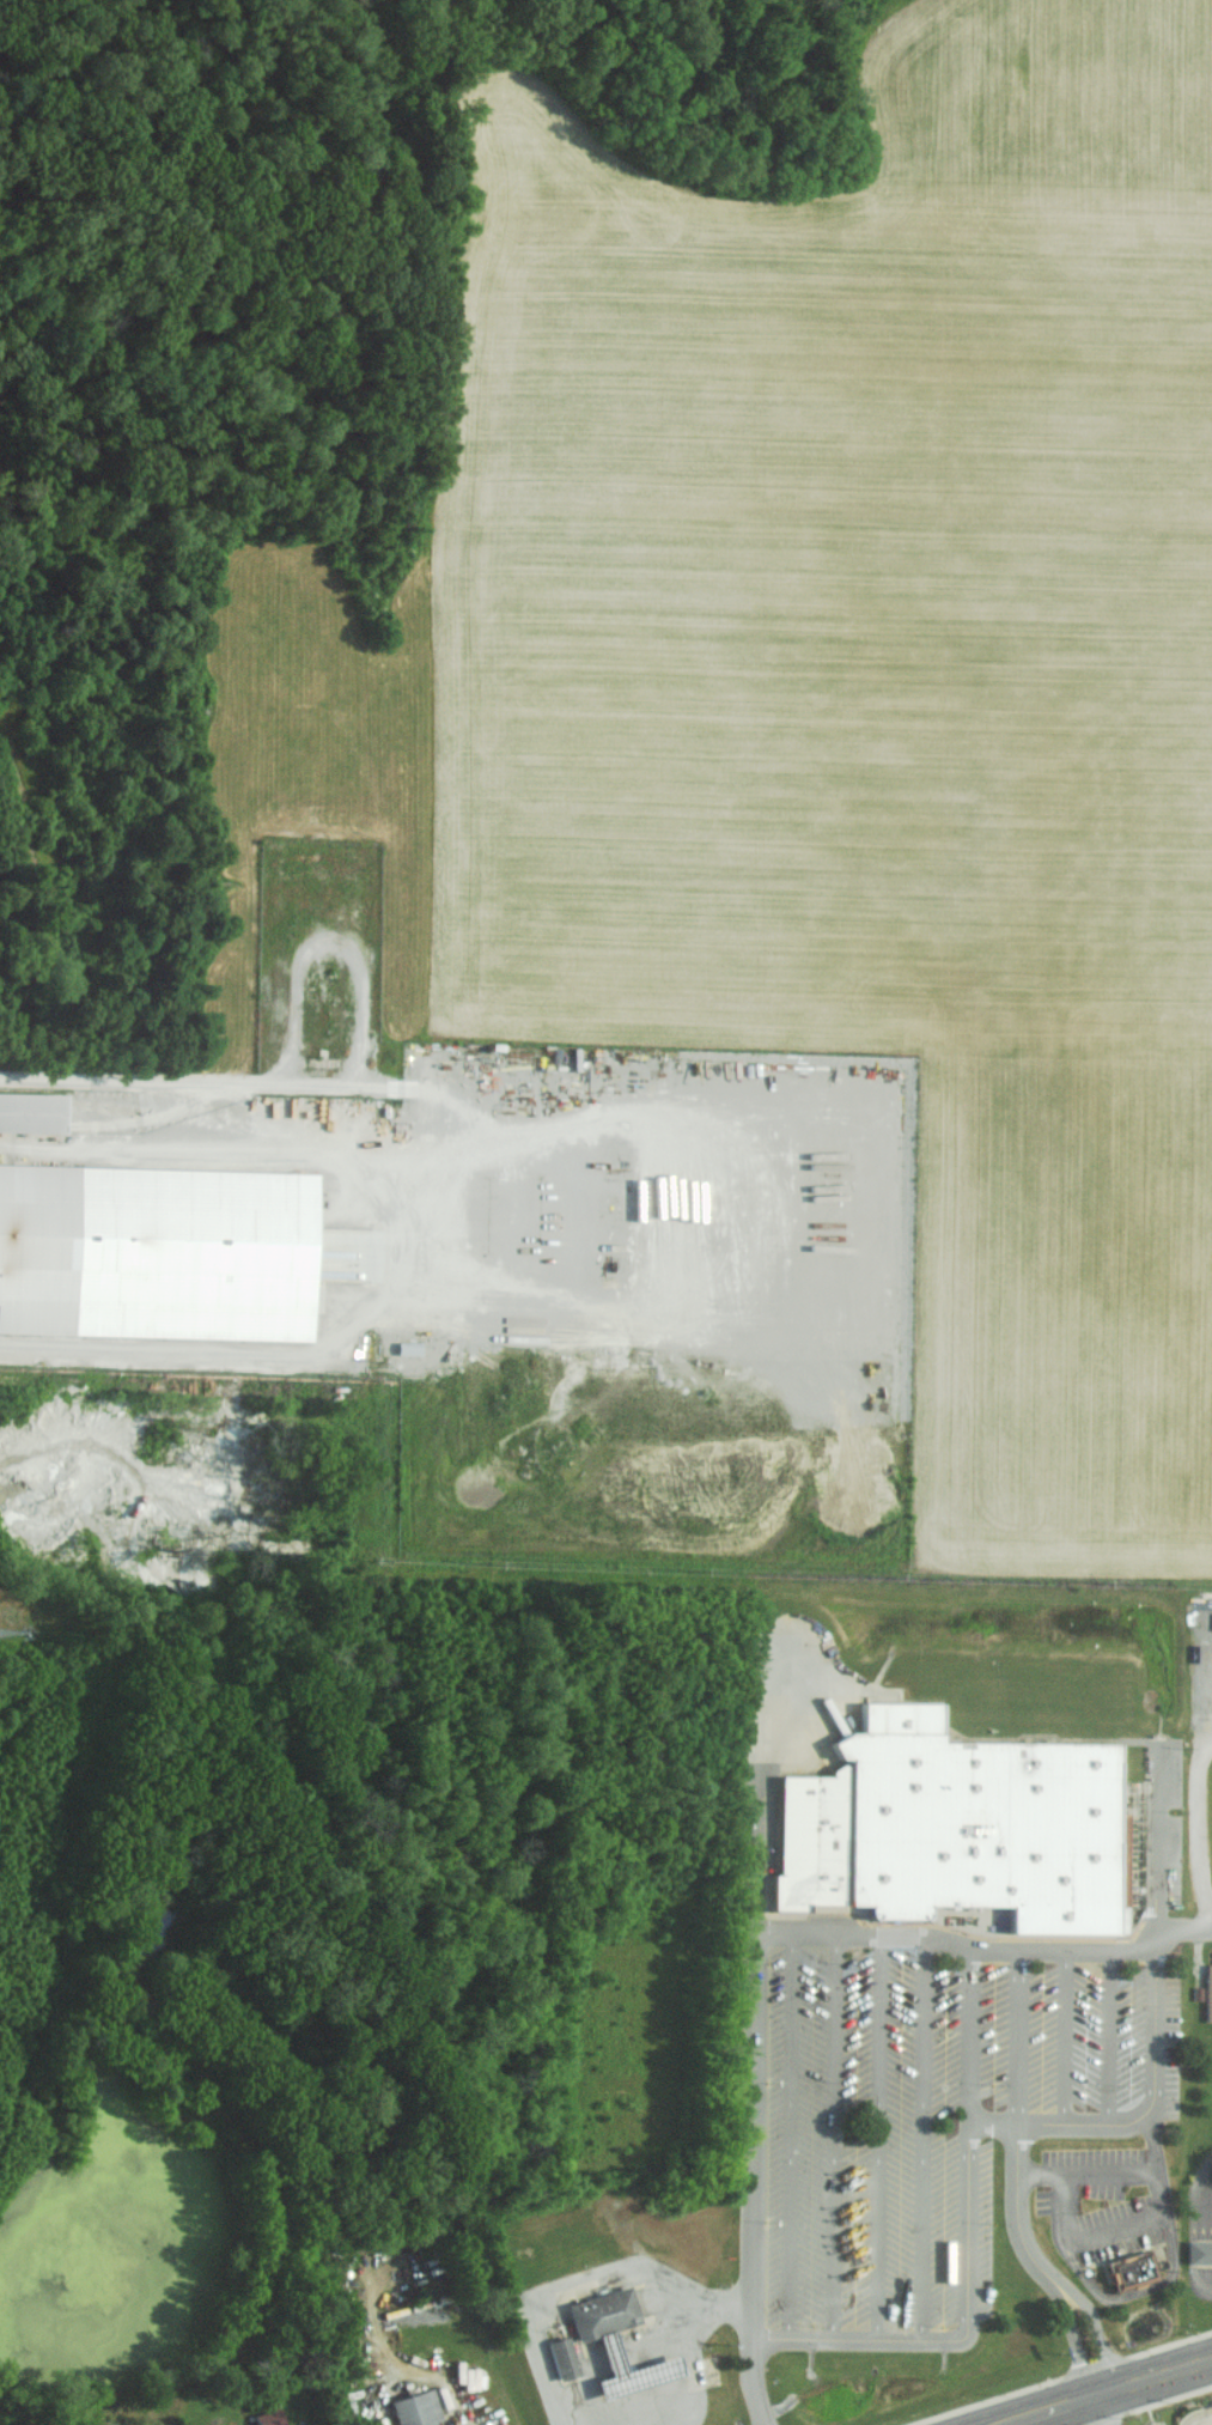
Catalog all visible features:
road: (148, 1084)
building: (32, 1110)
building: (157, 1250)
road: (389, 1250)
building: (408, 1347)
building: (961, 1831)
road: (1193, 1834)
road: (756, 1957)
building: (1207, 1993)
road: (1030, 2137)
building: (1199, 2253)
building: (1131, 2269)
road: (571, 2281)
building: (598, 2312)
building: (559, 2357)
road: (695, 2363)
road: (397, 2364)
building: (622, 2370)
road: (1109, 2393)
building: (416, 2408)
road: (1106, 2409)
building: (269, 2417)

